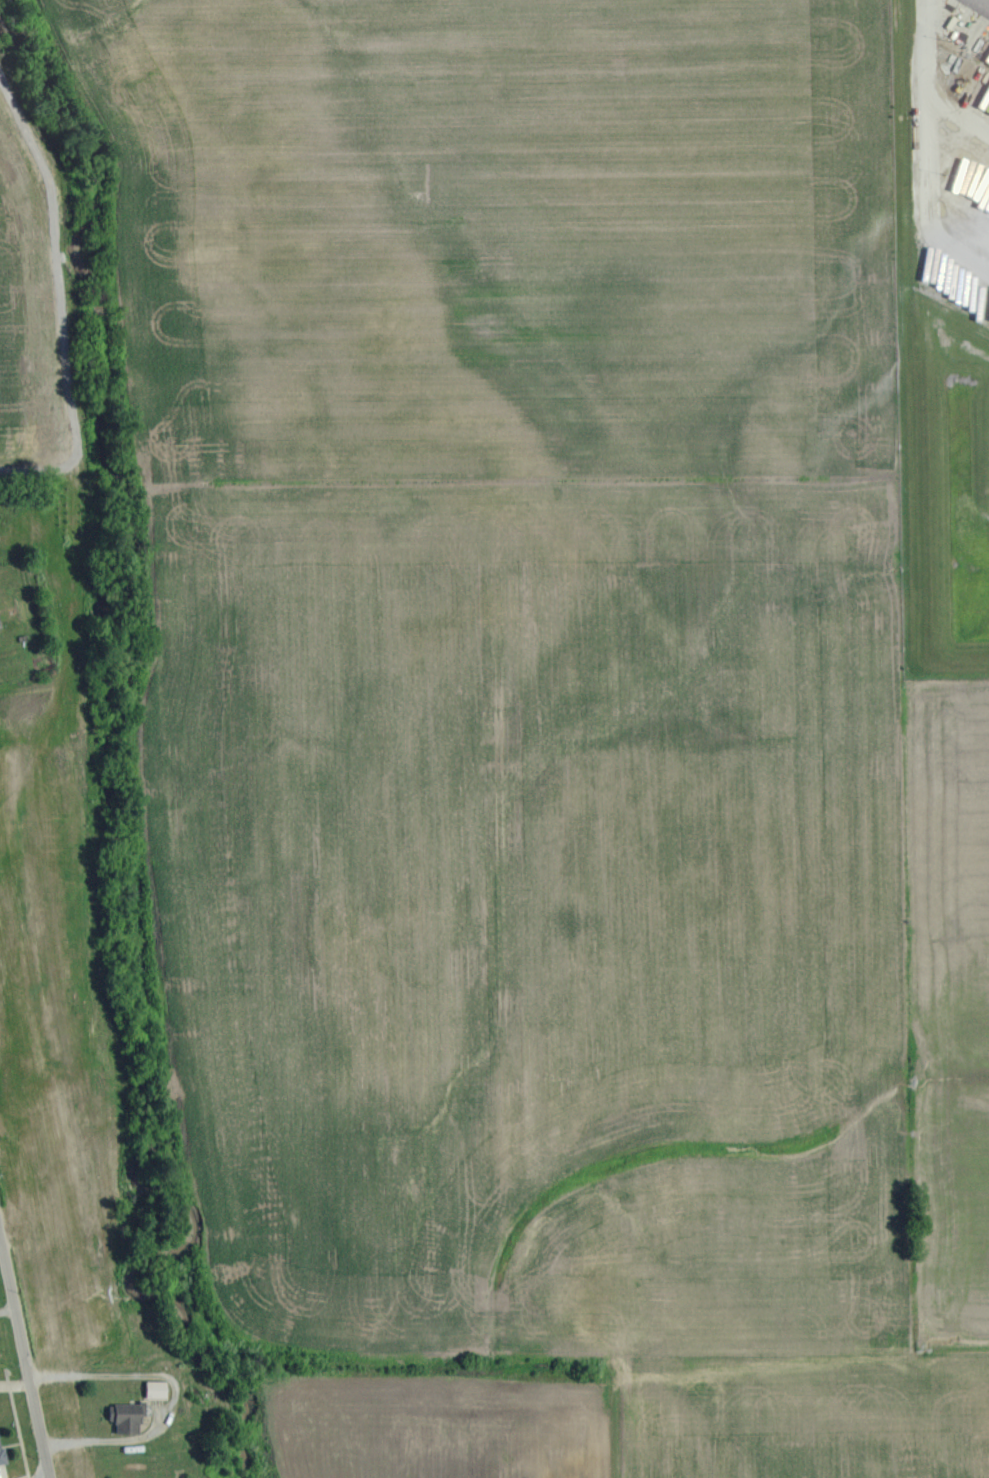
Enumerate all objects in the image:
building: (0, 628)
road: (24, 1357)
building: (159, 1388)
road: (173, 1397)
building: (128, 1417)
building: (3, 1450)

